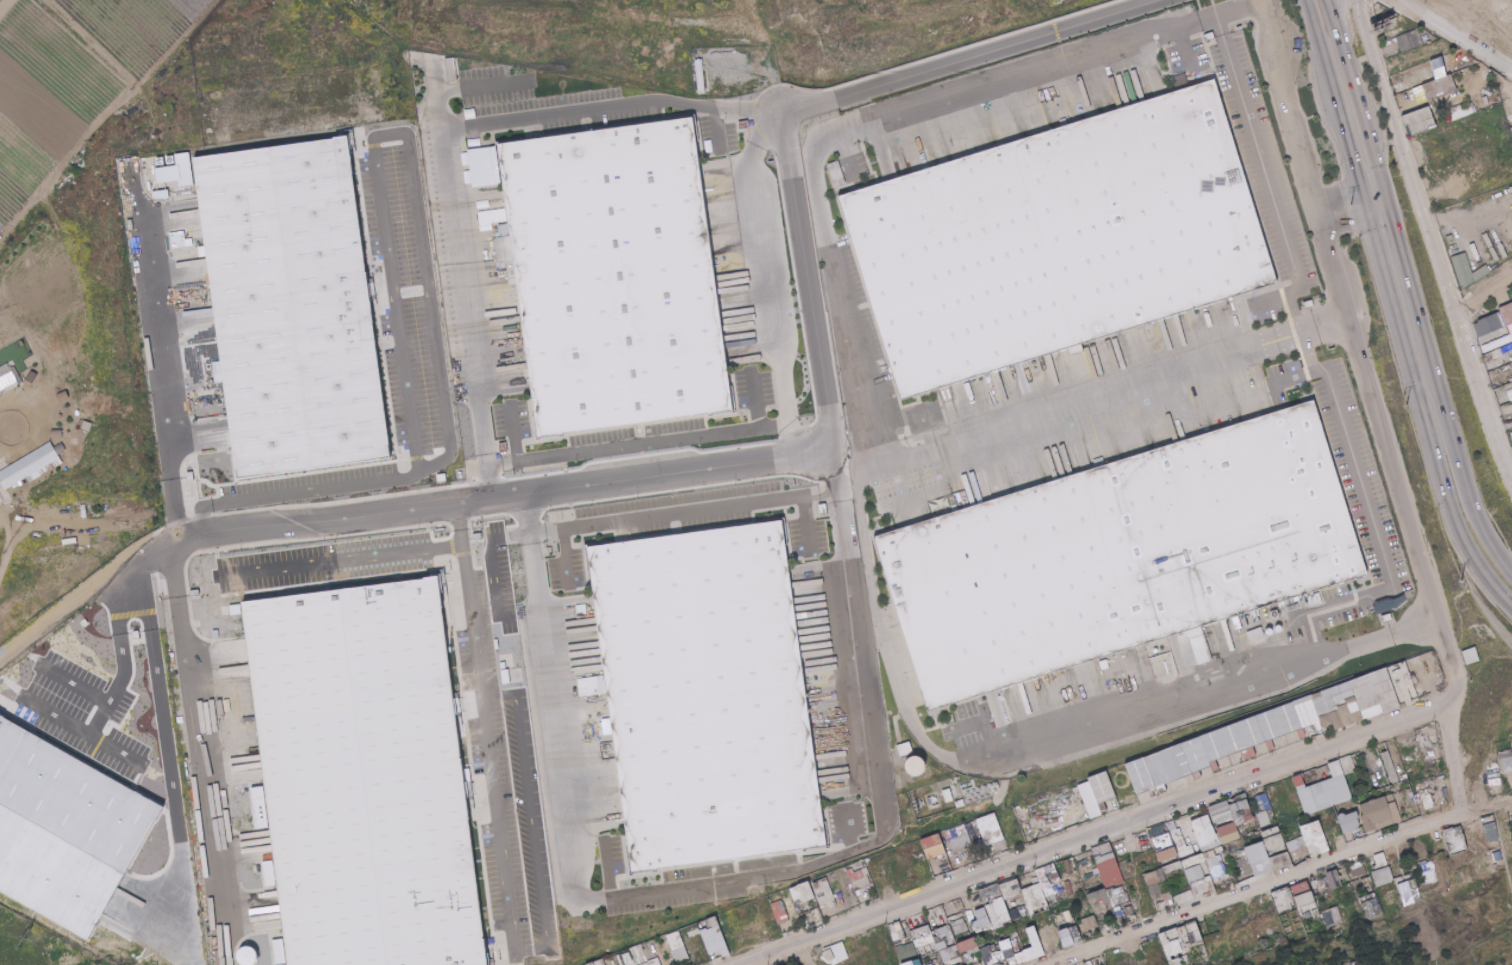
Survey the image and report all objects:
crop: (2, 2)
power tower: (1298, 3)
crop: (141, 27)
parking lot: (528, 89)
crop: (47, 104)
power tower: (1351, 202)
parking lot: (394, 337)
power tower: (1403, 403)
power tower: (1456, 580)

